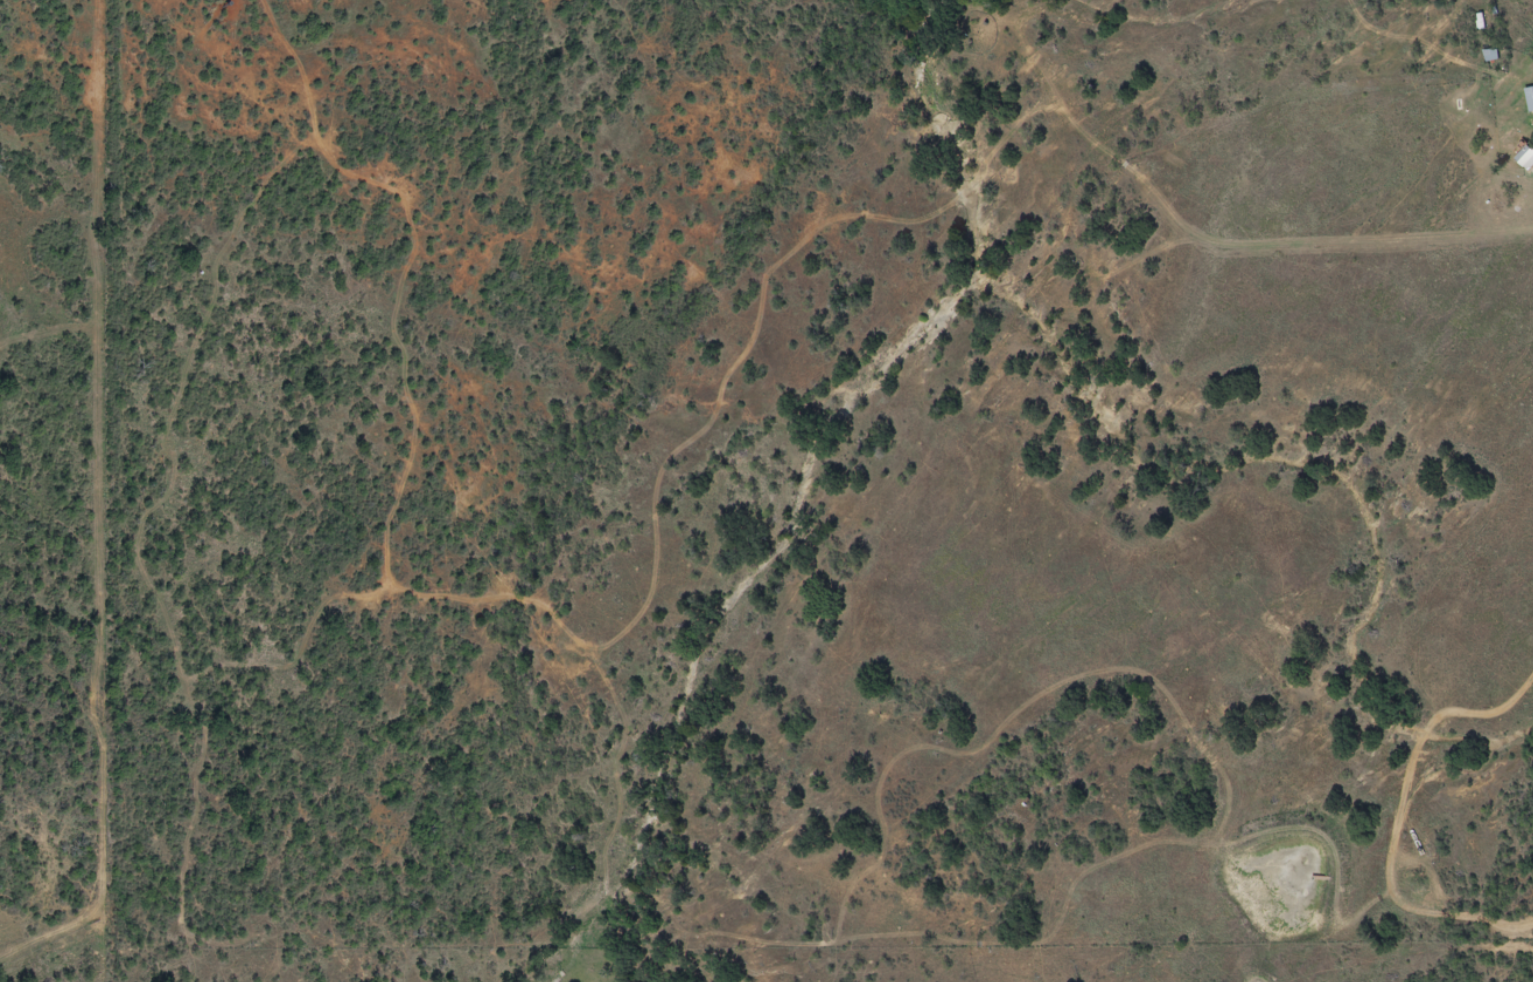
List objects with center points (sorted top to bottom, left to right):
building: (1529, 98)
building: (1525, 158)

